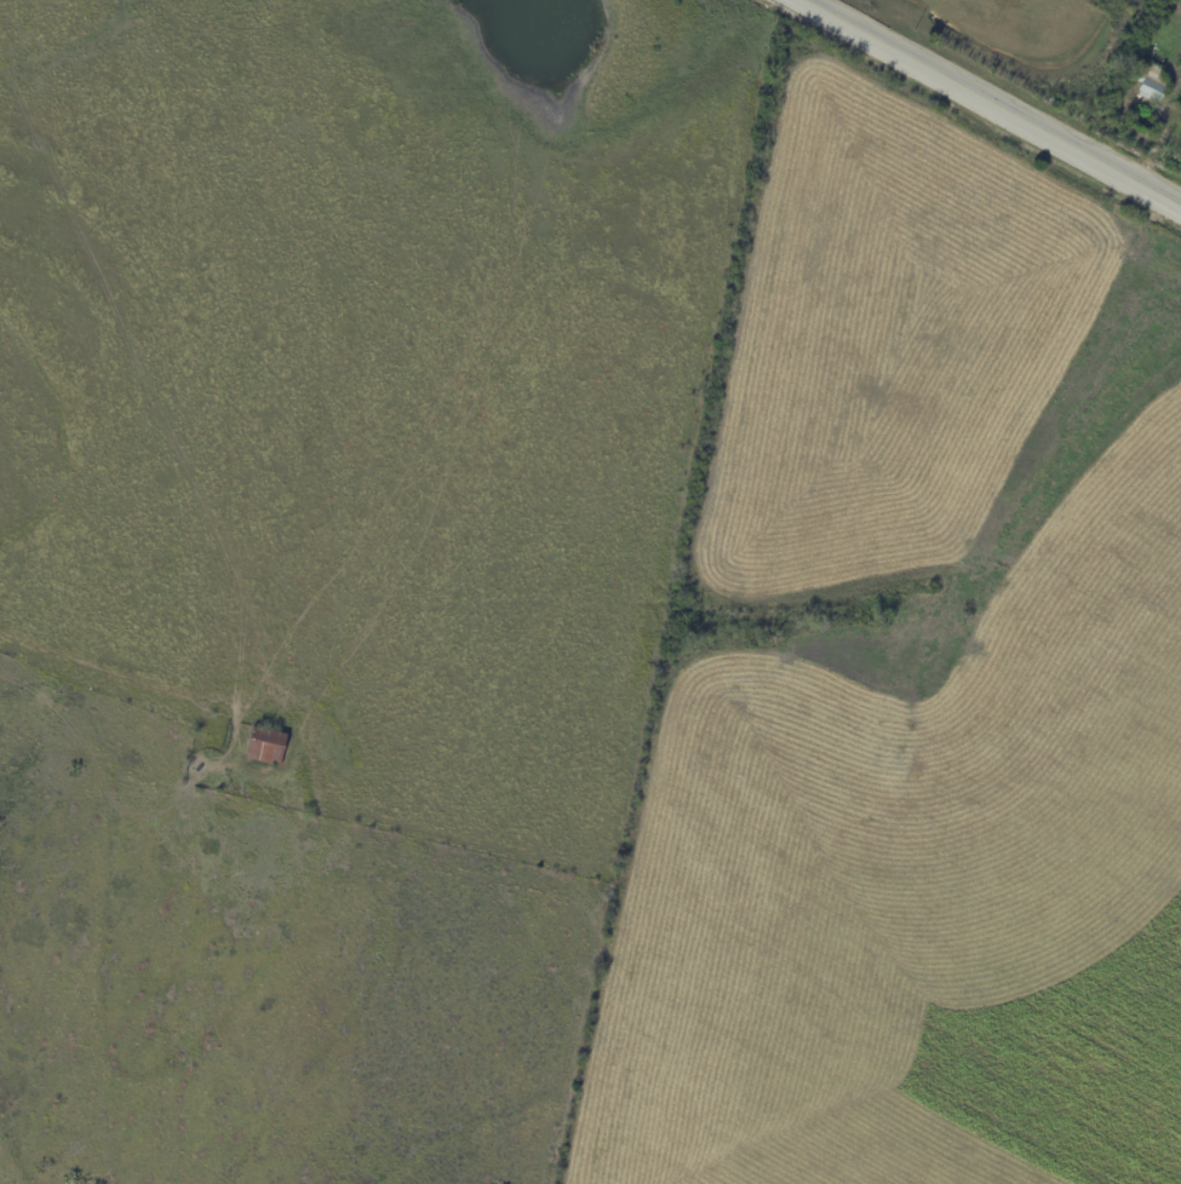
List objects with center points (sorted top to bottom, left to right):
building: (1152, 85)
road: (992, 104)
road: (148, 392)
building: (268, 747)

